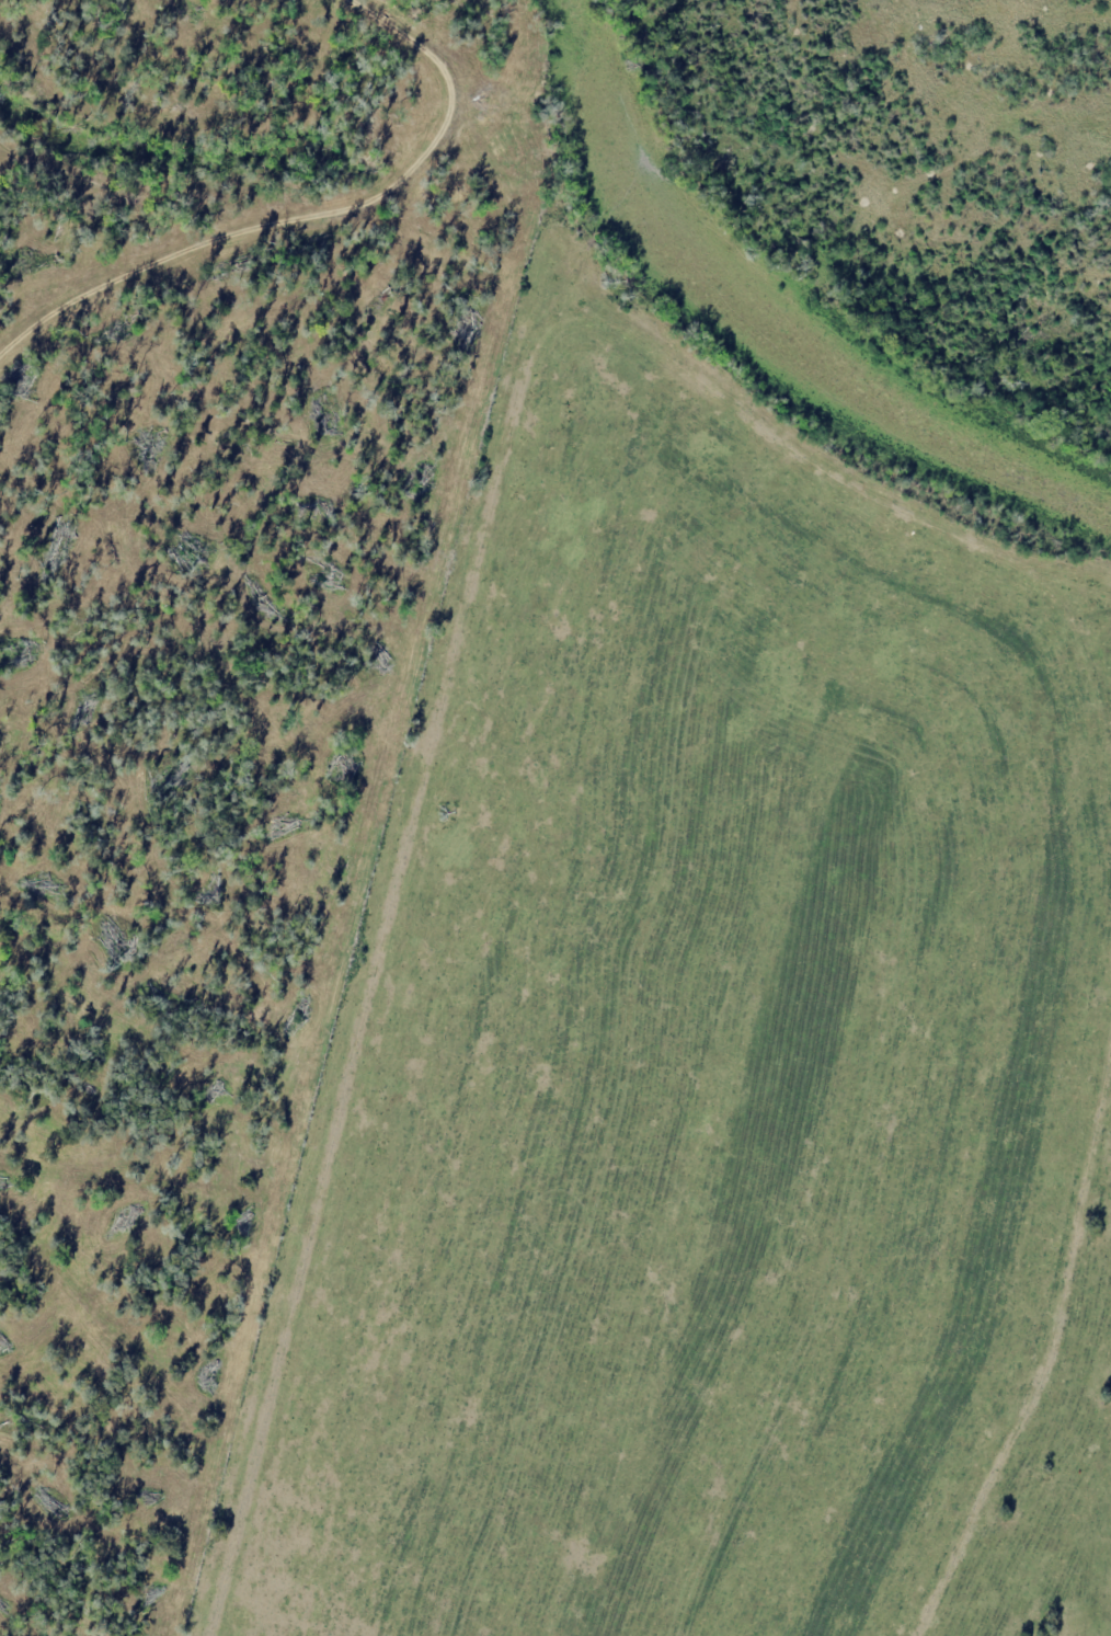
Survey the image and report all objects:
road: (313, 224)

